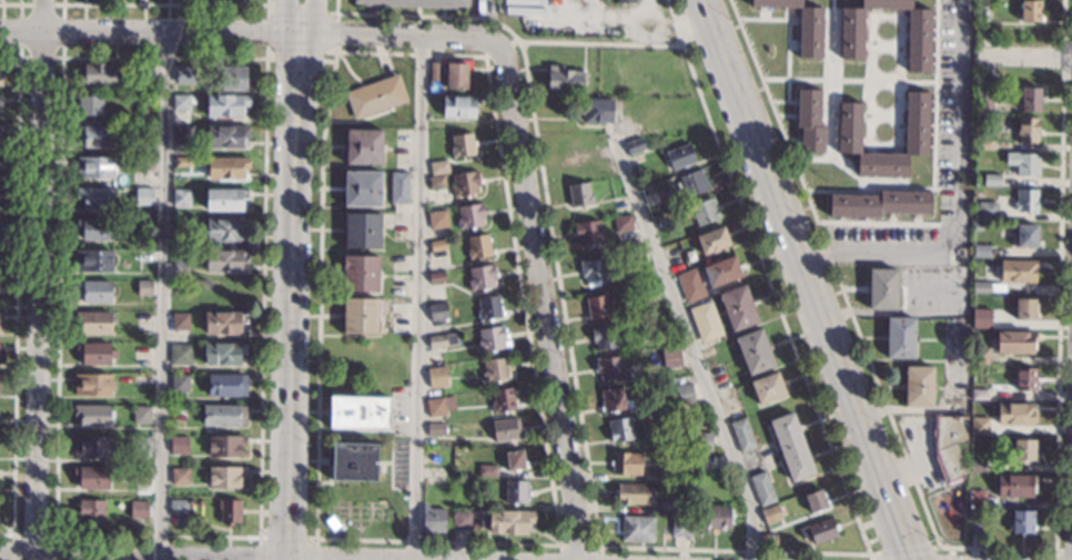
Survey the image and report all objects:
building: (625, 1)
building: (414, 3)
road: (12, 4)
road: (164, 4)
building: (1031, 11)
road: (290, 17)
road: (305, 17)
building: (800, 24)
road: (235, 33)
building: (917, 34)
road: (598, 43)
road: (499, 49)
road: (326, 52)
road: (1029, 52)
road: (972, 53)
road: (9, 58)
road: (61, 58)
road: (264, 59)
building: (435, 71)
building: (456, 75)
building: (94, 77)
building: (182, 77)
building: (564, 79)
building: (232, 80)
building: (0, 81)
building: (375, 96)
building: (984, 96)
building: (1031, 99)
building: (0, 101)
building: (179, 105)
building: (459, 106)
building: (88, 108)
building: (224, 108)
building: (595, 110)
building: (808, 120)
building: (1028, 131)
building: (849, 135)
building: (0, 136)
building: (142, 136)
building: (180, 136)
building: (94, 138)
building: (224, 138)
building: (462, 145)
building: (634, 145)
building: (984, 145)
building: (363, 146)
building: (574, 153)
building: (679, 156)
building: (0, 163)
building: (181, 163)
building: (1023, 163)
building: (143, 166)
building: (438, 167)
building: (93, 170)
building: (224, 170)
building: (991, 180)
building: (436, 182)
building: (692, 183)
building: (465, 184)
building: (397, 187)
building: (362, 189)
building: (579, 194)
building: (0, 195)
building: (142, 198)
building: (94, 200)
building: (179, 200)
road: (545, 200)
building: (1027, 201)
building: (223, 202)
road: (955, 202)
building: (879, 204)
building: (987, 211)
building: (705, 212)
building: (469, 216)
building: (437, 221)
building: (623, 223)
road: (509, 227)
building: (977, 227)
building: (0, 230)
building: (179, 230)
building: (92, 231)
building: (224, 231)
building: (362, 231)
building: (587, 233)
building: (1024, 234)
building: (711, 241)
building: (437, 245)
building: (477, 246)
building: (981, 252)
building: (178, 261)
building: (636, 261)
building: (222, 262)
building: (92, 263)
building: (594, 271)
building: (720, 271)
building: (1017, 271)
building: (360, 273)
building: (436, 277)
building: (481, 277)
road: (766, 277)
road: (836, 278)
road: (37, 279)
road: (801, 279)
building: (690, 286)
road: (540, 287)
building: (980, 287)
building: (881, 289)
building: (143, 292)
building: (92, 294)
road: (291, 294)
road: (318, 294)
building: (647, 294)
road: (163, 297)
road: (418, 297)
road: (16, 303)
building: (597, 307)
building: (738, 307)
building: (489, 308)
building: (1025, 309)
building: (437, 312)
building: (360, 316)
building: (705, 322)
building: (659, 323)
building: (980, 323)
building: (92, 324)
building: (179, 324)
building: (222, 325)
building: (605, 337)
building: (899, 337)
building: (492, 338)
building: (442, 340)
building: (1014, 343)
road: (694, 344)
building: (754, 352)
building: (92, 356)
building: (179, 356)
building: (222, 356)
building: (980, 356)
building: (670, 357)
building: (609, 368)
building: (495, 369)
building: (435, 373)
building: (1024, 379)
building: (178, 386)
building: (918, 386)
building: (90, 387)
building: (225, 387)
building: (767, 388)
building: (437, 393)
building: (979, 394)
building: (684, 395)
building: (503, 400)
building: (615, 400)
building: (178, 403)
building: (435, 407)
building: (358, 413)
building: (1014, 414)
building: (92, 417)
building: (139, 417)
building: (176, 417)
building: (222, 417)
building: (979, 426)
building: (505, 428)
building: (435, 429)
building: (620, 429)
building: (742, 435)
building: (702, 442)
building: (949, 445)
building: (791, 447)
building: (176, 448)
building: (89, 449)
building: (140, 449)
building: (224, 449)
building: (1023, 449)
building: (514, 460)
building: (353, 462)
building: (626, 464)
building: (978, 466)
building: (486, 470)
building: (434, 475)
building: (666, 477)
building: (176, 478)
building: (139, 479)
building: (90, 480)
building: (223, 480)
building: (465, 486)
building: (1015, 486)
building: (762, 488)
building: (516, 491)
building: (635, 493)
building: (975, 499)
building: (815, 500)
building: (176, 508)
building: (136, 511)
building: (89, 513)
building: (227, 515)
building: (770, 515)
building: (715, 517)
building: (433, 520)
building: (461, 520)
building: (506, 521)
building: (1022, 521)
building: (973, 523)
building: (637, 528)
building: (681, 528)
building: (818, 531)
road: (33, 536)
road: (286, 538)
building: (767, 539)
road: (437, 541)
road: (572, 546)
road: (734, 550)
road: (900, 550)
road: (141, 552)
road: (951, 553)
road: (282, 557)
road: (347, 557)

